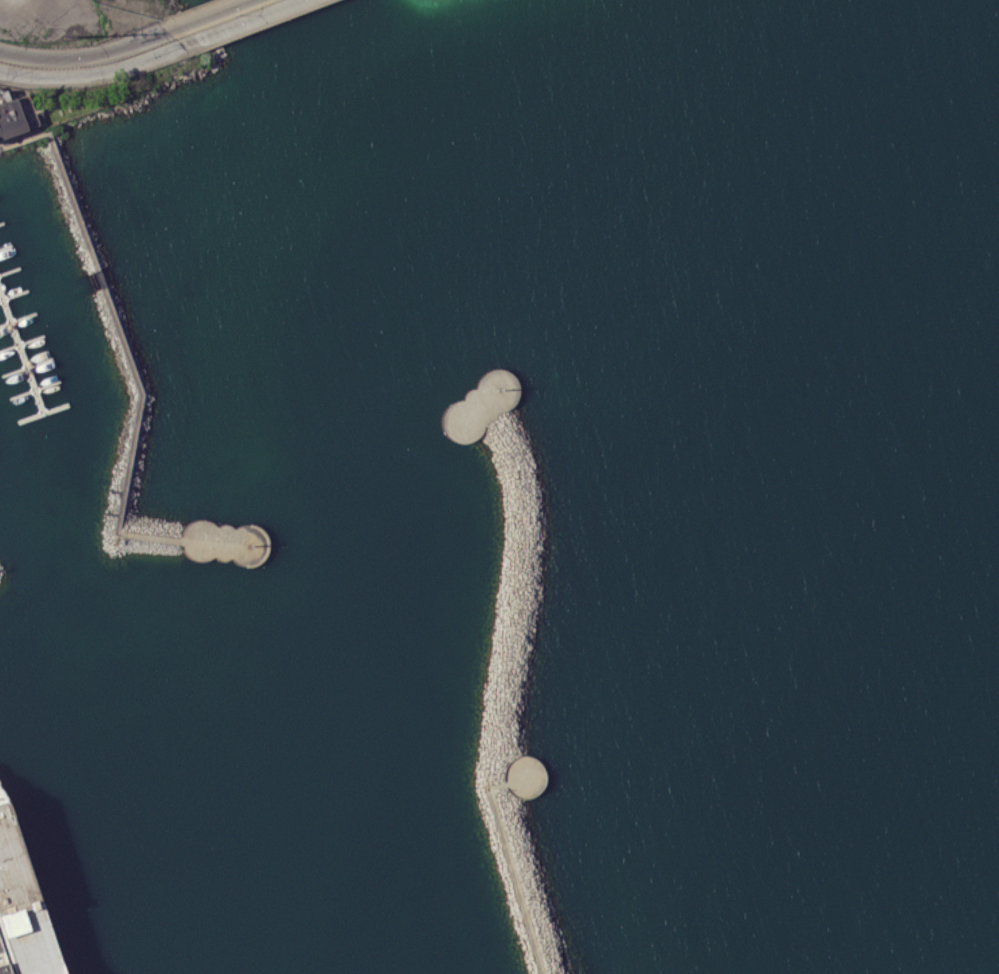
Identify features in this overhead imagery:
road: (203, 15)
road: (241, 22)
road: (83, 53)
road: (92, 71)
building: (9, 115)
pier: (3, 186)
pier: (7, 210)
pier: (10, 235)
pier: (0, 245)
pier: (18, 260)
pier: (5, 272)
pier: (26, 282)
pier: (9, 300)
pier: (34, 306)
pier: (14, 328)
pier: (29, 328)
pier: (42, 330)
pier: (50, 353)
pier: (20, 355)
pier: (57, 374)
road: (135, 378)
pier: (29, 381)
pier: (49, 403)
road: (506, 855)
building: (22, 906)
building: (2, 964)

